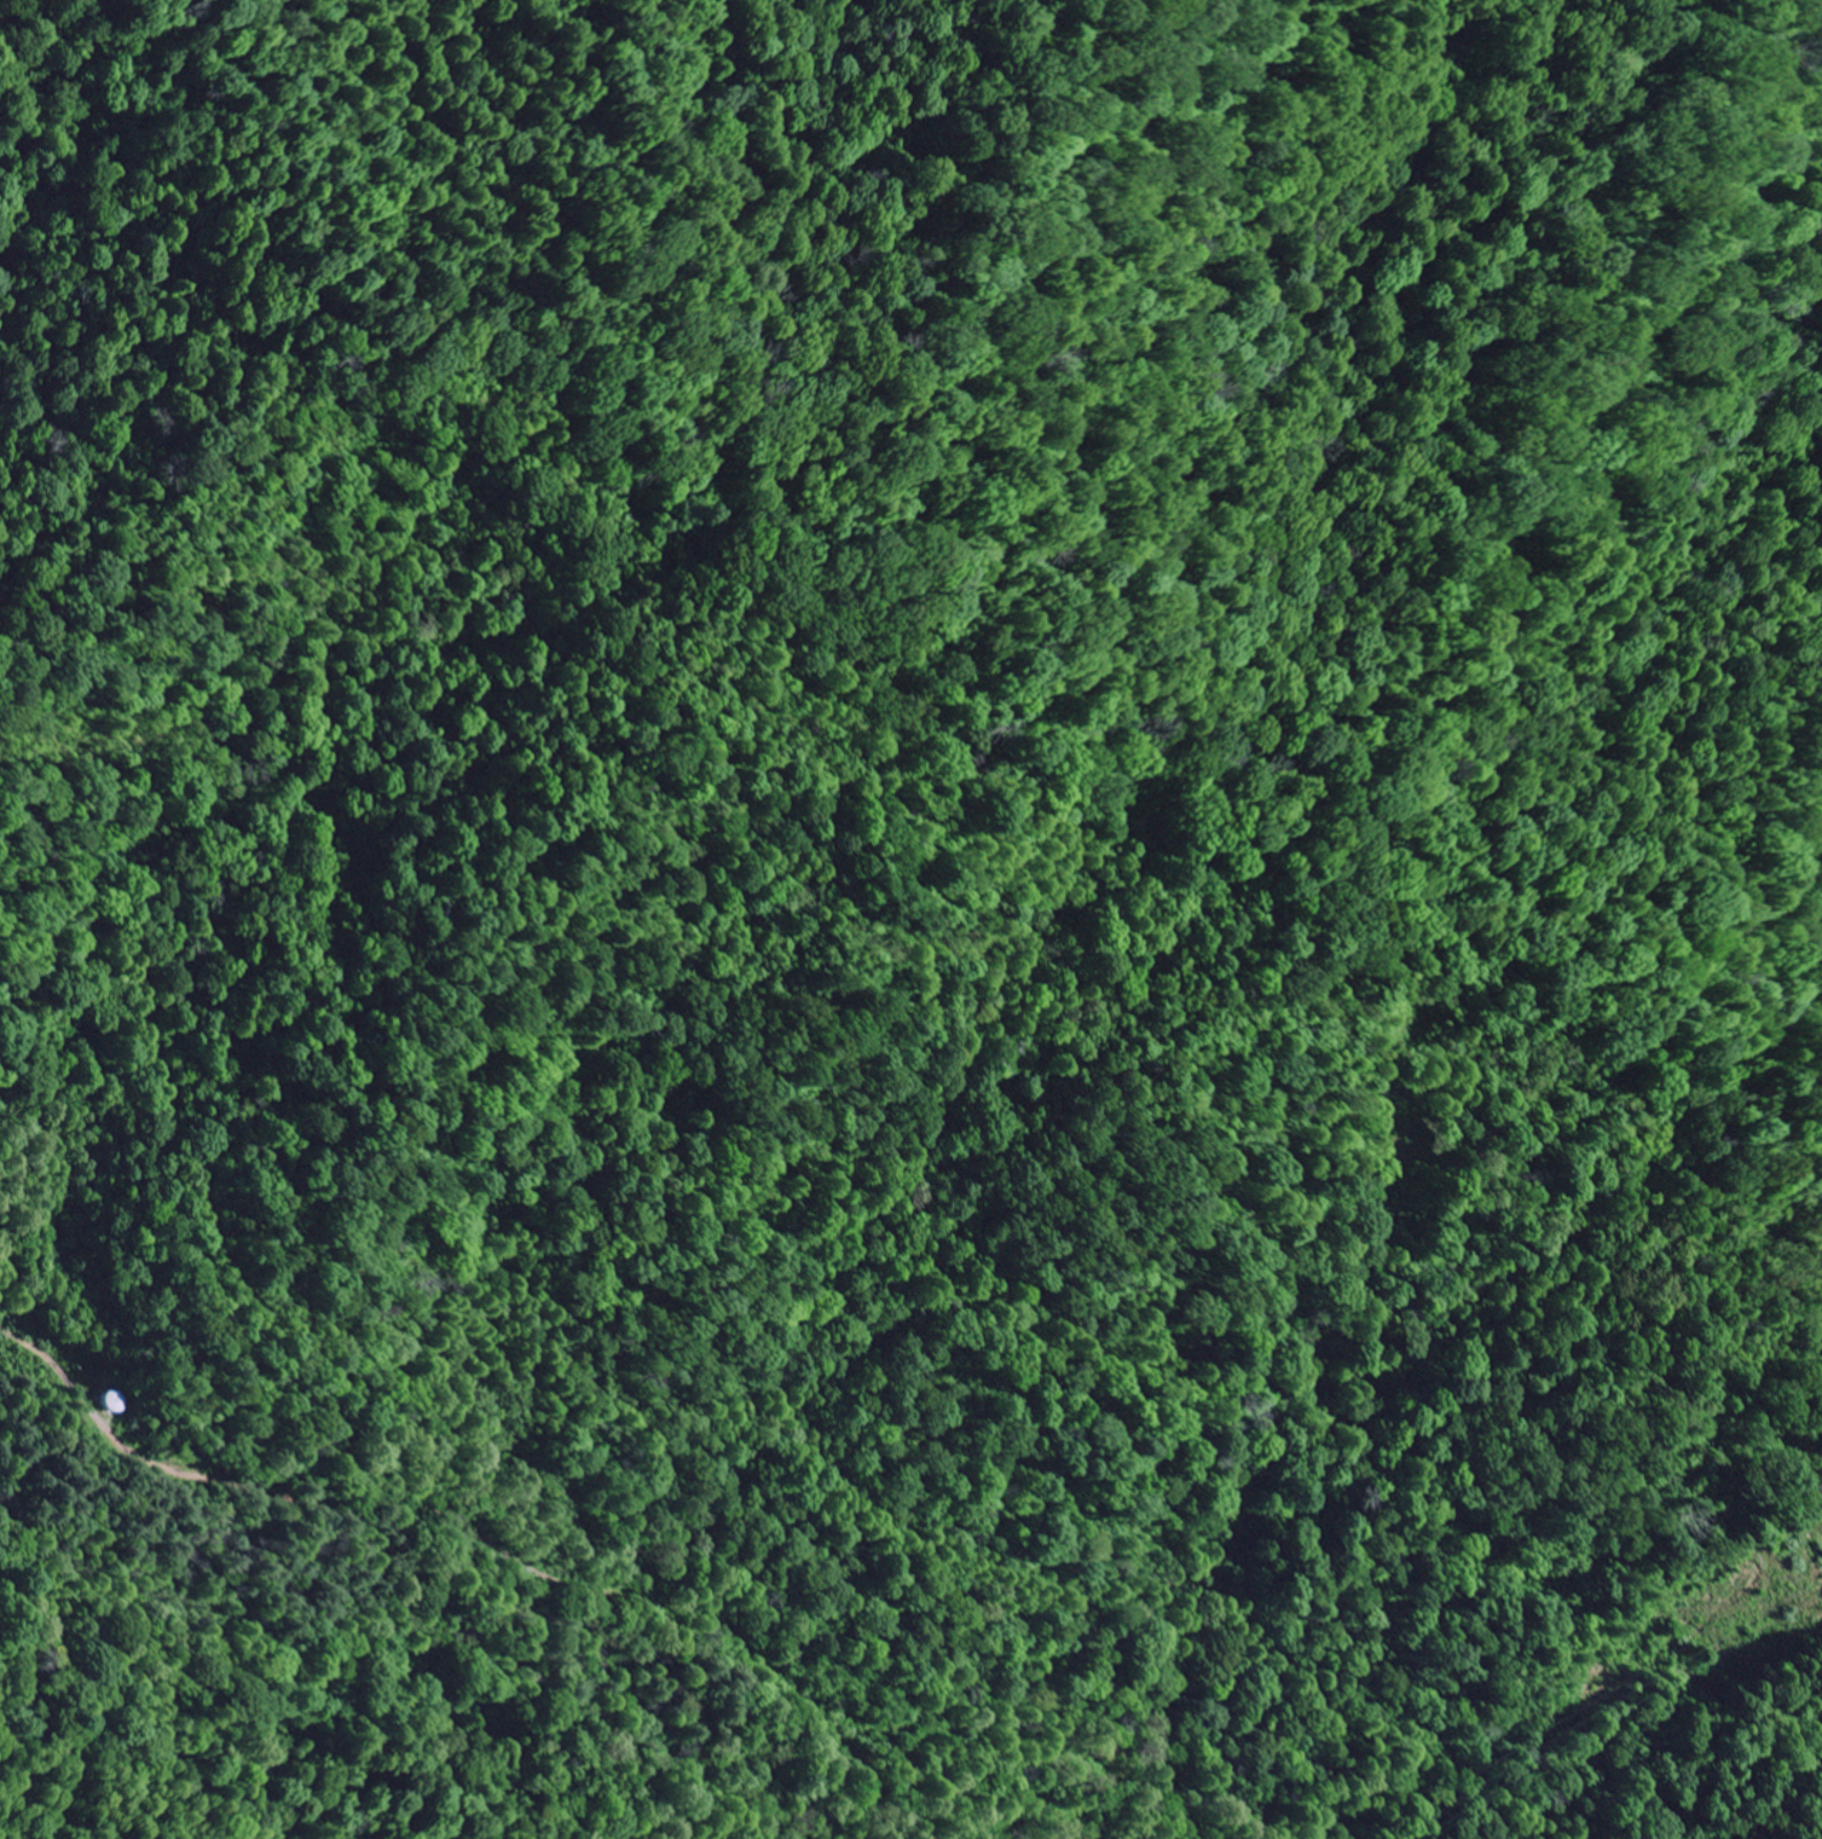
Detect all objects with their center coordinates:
building: (118, 1400)

